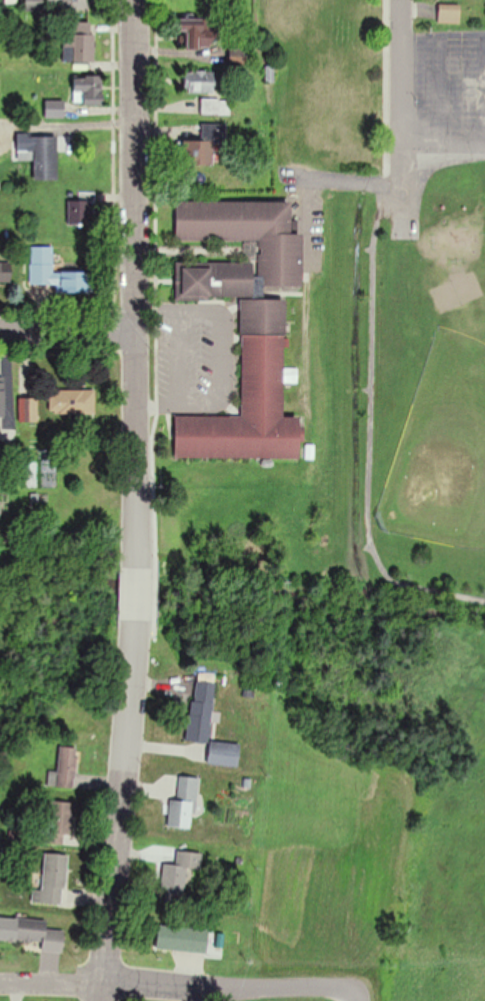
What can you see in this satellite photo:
building: (33, 5)
building: (66, 6)
building: (200, 33)
building: (77, 42)
building: (238, 56)
building: (331, 76)
building: (202, 81)
building: (87, 89)
road: (397, 91)
building: (215, 106)
road: (439, 123)
building: (202, 146)
building: (38, 152)
road: (418, 155)
building: (79, 211)
building: (4, 270)
building: (51, 273)
road: (138, 283)
building: (245, 325)
road: (69, 332)
building: (1, 397)
building: (71, 401)
building: (27, 409)
road: (140, 594)
building: (208, 724)
building: (64, 768)
building: (183, 803)
road: (125, 811)
building: (58, 821)
building: (179, 873)
building: (51, 879)
building: (38, 932)
building: (181, 937)
road: (53, 986)
road: (237, 987)

